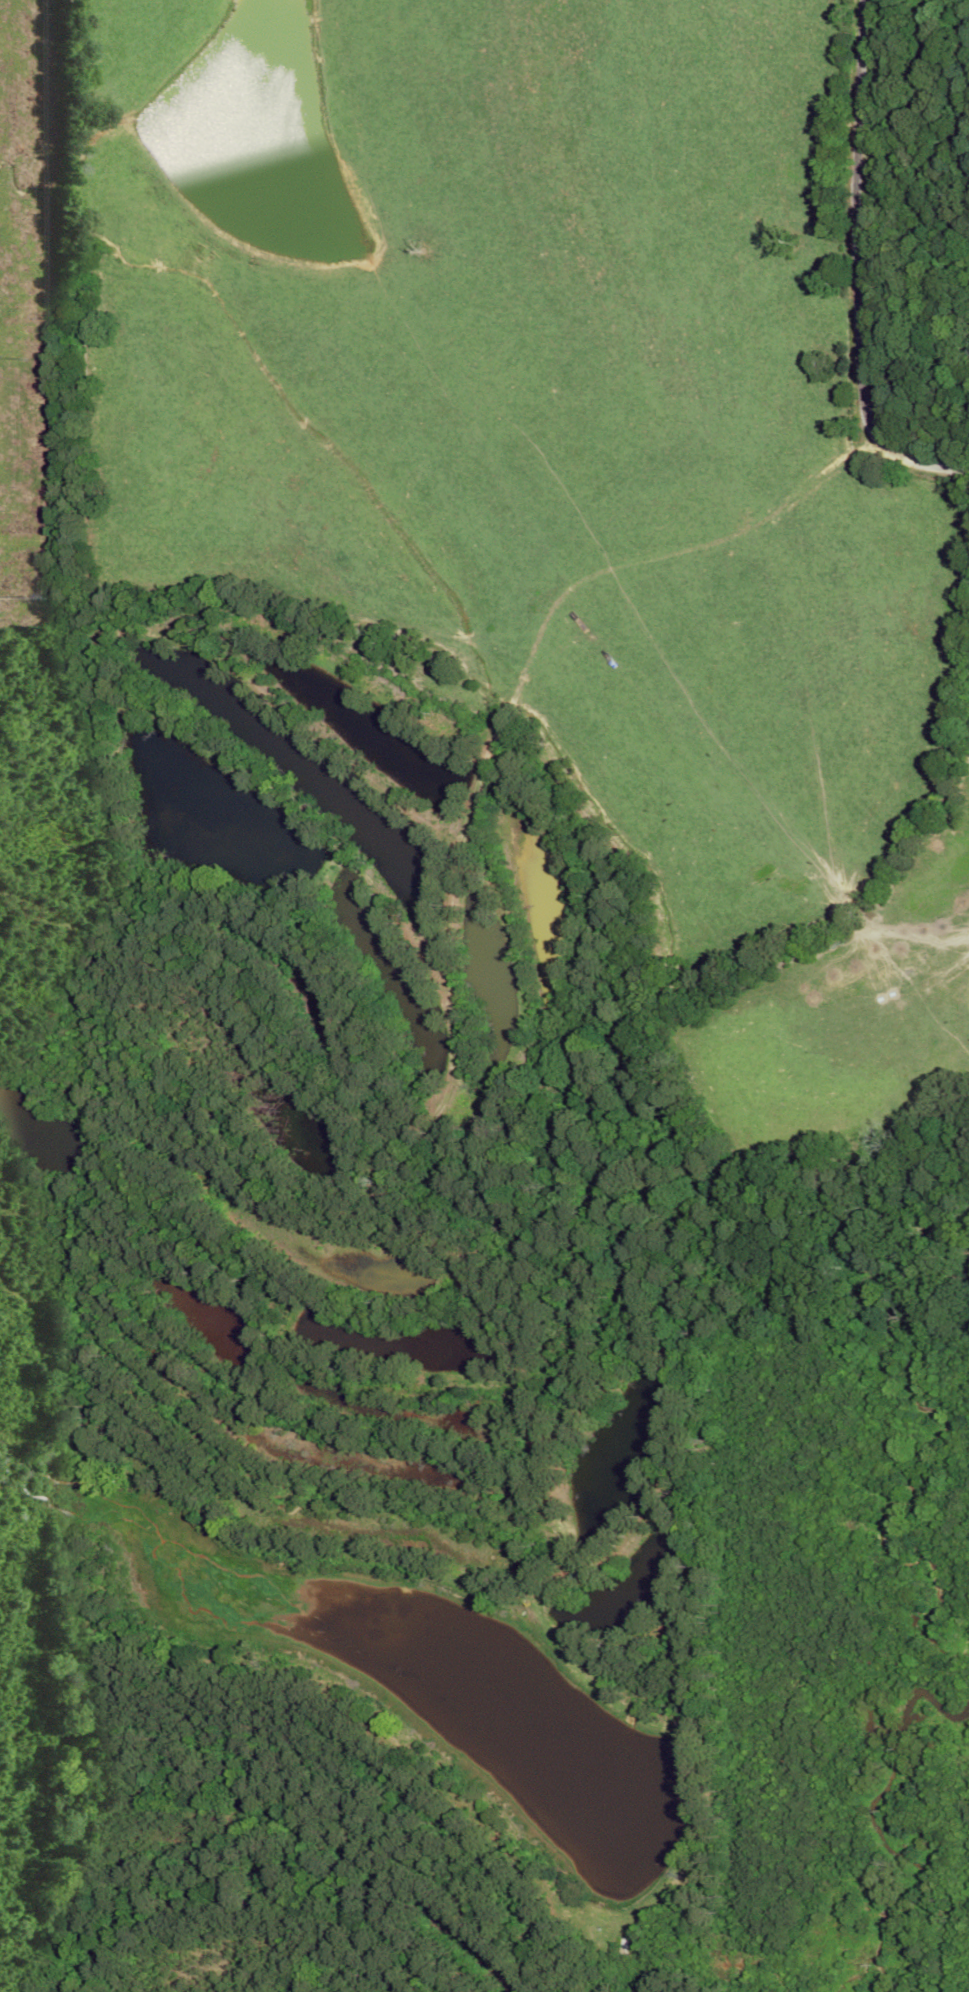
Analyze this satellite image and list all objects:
road: (818, 278)

